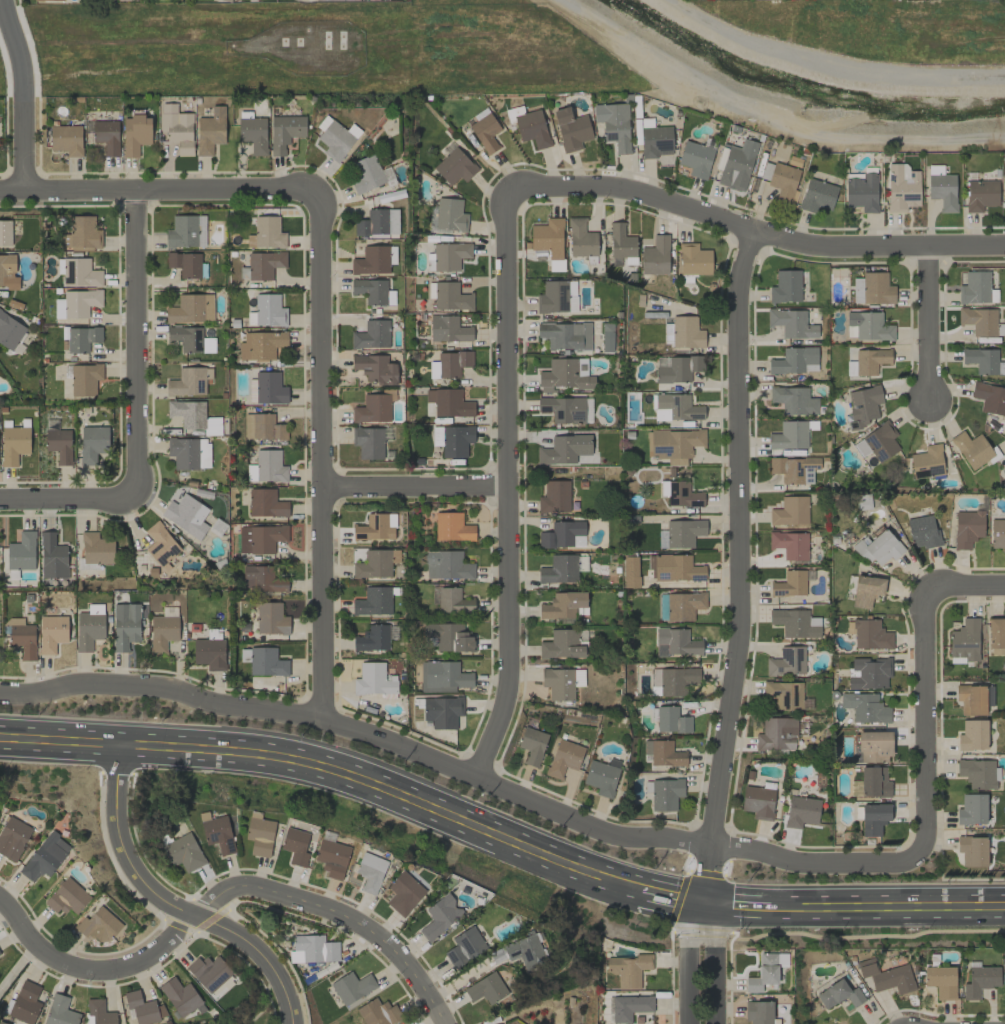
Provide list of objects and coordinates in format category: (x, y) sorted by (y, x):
building: (49, 0)
road: (826, 68)
road: (20, 95)
building: (614, 125)
building: (176, 128)
building: (532, 128)
building: (571, 129)
building: (210, 131)
building: (284, 132)
building: (485, 132)
building: (253, 133)
building: (135, 134)
building: (107, 136)
building: (66, 139)
building: (337, 140)
building: (655, 141)
building: (695, 159)
building: (737, 165)
building: (454, 167)
building: (368, 174)
building: (783, 182)
building: (902, 188)
road: (155, 191)
building: (942, 191)
building: (861, 192)
building: (1003, 192)
building: (980, 195)
building: (818, 196)
building: (450, 215)
building: (377, 223)
road: (757, 229)
building: (186, 231)
building: (5, 232)
building: (84, 233)
building: (266, 233)
building: (548, 237)
building: (581, 239)
building: (621, 241)
building: (447, 256)
building: (655, 256)
building: (371, 260)
building: (694, 260)
building: (185, 264)
building: (264, 264)
building: (555, 265)
building: (8, 271)
building: (80, 273)
building: (785, 287)
building: (974, 288)
building: (872, 289)
building: (370, 290)
building: (554, 296)
building: (451, 297)
building: (76, 303)
building: (191, 308)
building: (269, 310)
building: (979, 321)
building: (791, 323)
road: (926, 324)
building: (869, 326)
building: (448, 329)
building: (9, 331)
building: (683, 332)
building: (372, 335)
building: (565, 335)
building: (82, 338)
road: (134, 345)
building: (261, 345)
building: (793, 360)
building: (981, 360)
building: (867, 362)
building: (449, 364)
building: (676, 368)
building: (375, 369)
building: (563, 376)
building: (85, 379)
building: (189, 381)
building: (269, 388)
building: (989, 398)
building: (794, 400)
building: (448, 403)
building: (862, 405)
building: (374, 407)
building: (679, 407)
building: (562, 409)
building: (661, 414)
building: (193, 416)
building: (266, 427)
building: (789, 436)
building: (452, 440)
building: (368, 442)
building: (880, 442)
building: (93, 443)
building: (14, 444)
building: (59, 444)
building: (673, 444)
building: (564, 449)
building: (972, 449)
building: (189, 453)
road: (319, 455)
building: (927, 462)
building: (267, 467)
building: (794, 469)
road: (503, 484)
road: (412, 486)
building: (680, 494)
building: (554, 497)
road: (64, 499)
building: (266, 503)
building: (790, 511)
building: (186, 515)
building: (452, 527)
building: (373, 528)
building: (967, 528)
building: (922, 532)
building: (683, 533)
building: (997, 534)
building: (562, 535)
building: (260, 538)
building: (661, 539)
building: (160, 544)
building: (790, 544)
building: (877, 548)
building: (96, 549)
road: (737, 549)
building: (21, 552)
building: (52, 556)
building: (375, 563)
building: (447, 565)
building: (674, 568)
building: (559, 569)
building: (630, 572)
building: (261, 579)
building: (789, 584)
road: (968, 585)
building: (865, 590)
building: (451, 600)
building: (373, 602)
building: (562, 605)
building: (683, 606)
building: (271, 619)
building: (795, 623)
building: (125, 626)
building: (88, 630)
building: (163, 632)
building: (51, 633)
building: (996, 633)
building: (868, 634)
building: (449, 637)
building: (372, 638)
building: (23, 640)
building: (966, 641)
building: (675, 642)
building: (561, 645)
building: (210, 653)
building: (266, 662)
building: (786, 662)
building: (868, 673)
building: (442, 677)
building: (374, 679)
building: (676, 680)
building: (558, 683)
building: (784, 695)
building: (989, 696)
building: (971, 699)
building: (864, 707)
road: (240, 709)
building: (442, 712)
road: (926, 717)
building: (670, 720)
building: (776, 734)
building: (972, 735)
building: (532, 746)
building: (871, 746)
building: (662, 753)
building: (564, 758)
road: (331, 769)
building: (976, 773)
building: (601, 778)
building: (874, 782)
building: (664, 793)
building: (758, 802)
building: (971, 809)
building: (801, 812)
building: (874, 818)
building: (218, 834)
building: (259, 834)
building: (12, 837)
road: (695, 845)
building: (295, 846)
building: (972, 851)
building: (183, 852)
building: (45, 857)
building: (332, 857)
building: (370, 872)
road: (221, 894)
building: (403, 894)
building: (67, 897)
road: (669, 898)
road: (170, 903)
road: (886, 905)
road: (744, 906)
traffic signals: (695, 907)
road: (707, 907)
traffic signals: (720, 907)
building: (440, 916)
building: (100, 926)
road: (690, 945)
road: (719, 946)
building: (464, 947)
building: (315, 948)
building: (525, 950)
building: (295, 957)
road: (15, 964)
building: (628, 969)
building: (766, 971)
building: (208, 972)
building: (887, 976)
building: (941, 981)
building: (980, 981)
building: (351, 987)
building: (485, 989)
building: (839, 994)
building: (180, 996)
building: (25, 1002)
building: (629, 1007)
building: (143, 1008)
building: (60, 1011)
building: (100, 1012)
building: (377, 1012)
building: (758, 1012)

